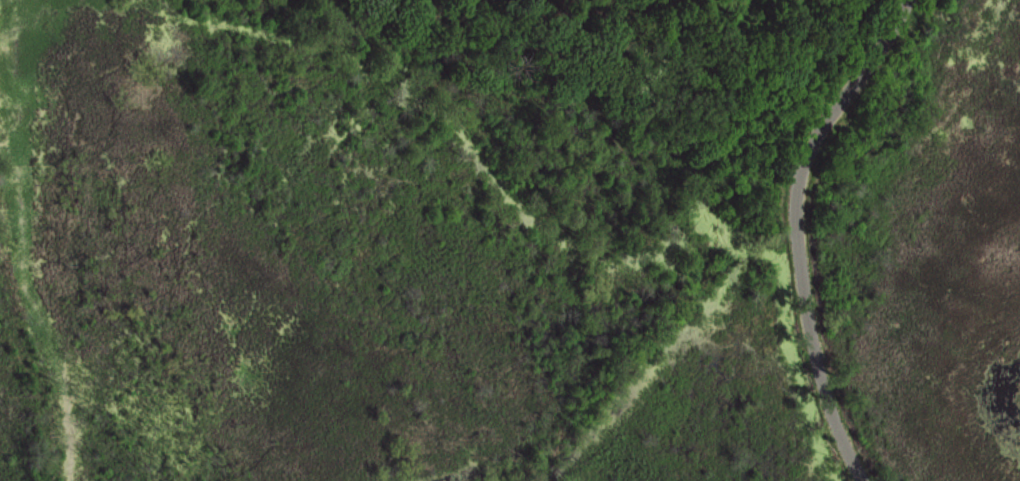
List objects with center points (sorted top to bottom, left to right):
road: (791, 230)

